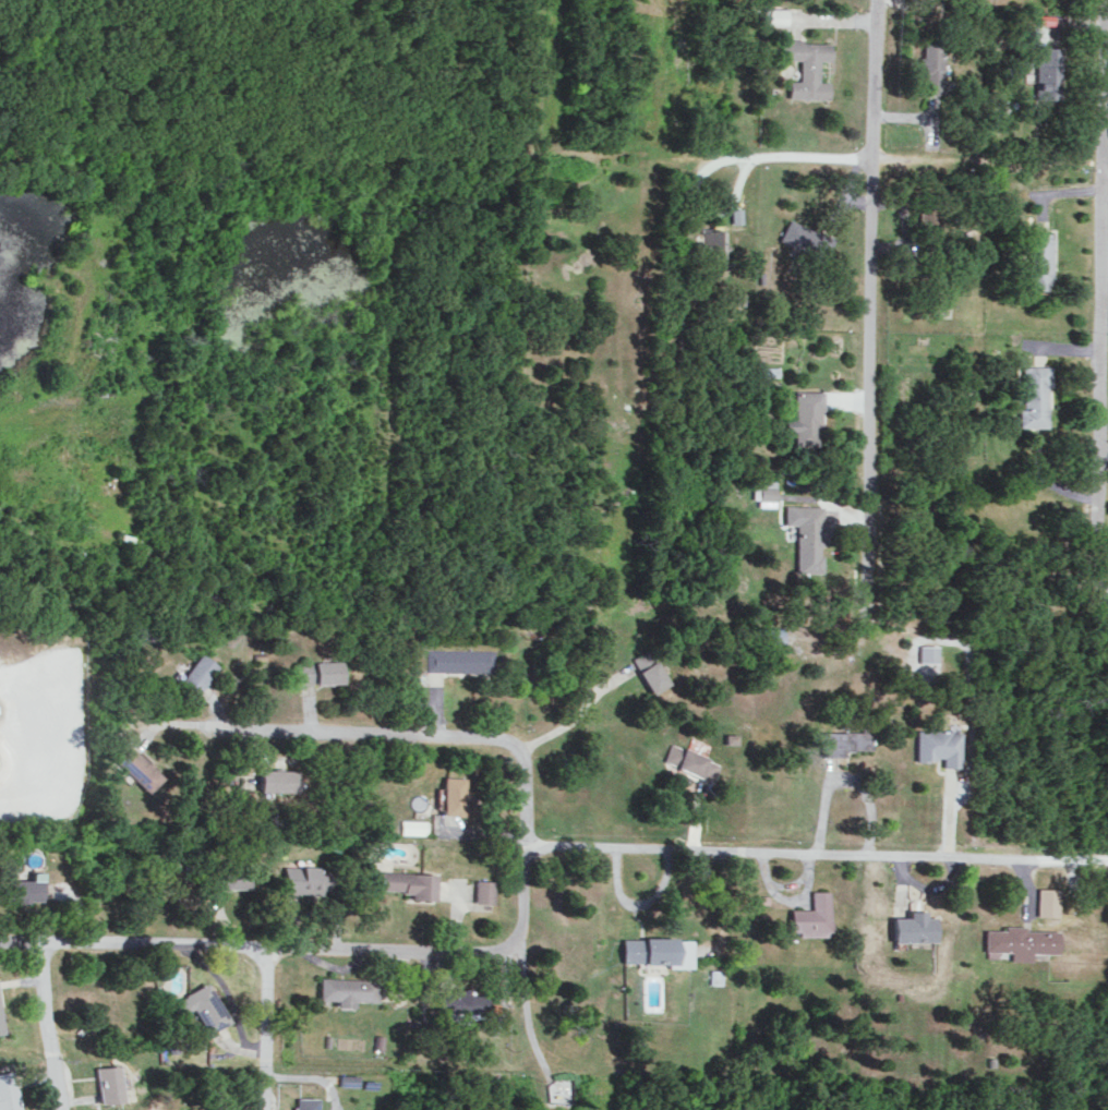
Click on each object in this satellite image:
building: (774, 15)
building: (1023, 33)
building: (932, 62)
building: (806, 65)
building: (1048, 71)
road: (727, 158)
road: (1105, 172)
building: (737, 214)
building: (798, 234)
building: (716, 243)
building: (822, 246)
building: (1040, 258)
road: (1097, 314)
road: (869, 371)
building: (1034, 395)
building: (807, 417)
building: (764, 491)
building: (807, 534)
building: (766, 636)
building: (926, 652)
building: (458, 660)
building: (649, 669)
building: (318, 671)
building: (195, 673)
road: (580, 708)
road: (499, 737)
building: (844, 740)
building: (937, 745)
building: (684, 759)
building: (132, 764)
building: (276, 779)
building: (453, 795)
building: (412, 825)
road: (816, 853)
building: (234, 876)
building: (301, 879)
building: (408, 882)
building: (23, 888)
building: (483, 890)
building: (759, 898)
building: (1047, 901)
building: (811, 916)
building: (914, 927)
building: (1020, 941)
road: (21, 942)
road: (280, 948)
building: (653, 950)
building: (714, 976)
building: (345, 989)
building: (461, 1002)
building: (202, 1005)
building: (0, 1024)
road: (46, 1026)
road: (265, 1028)
building: (106, 1083)
building: (7, 1091)
building: (303, 1102)

